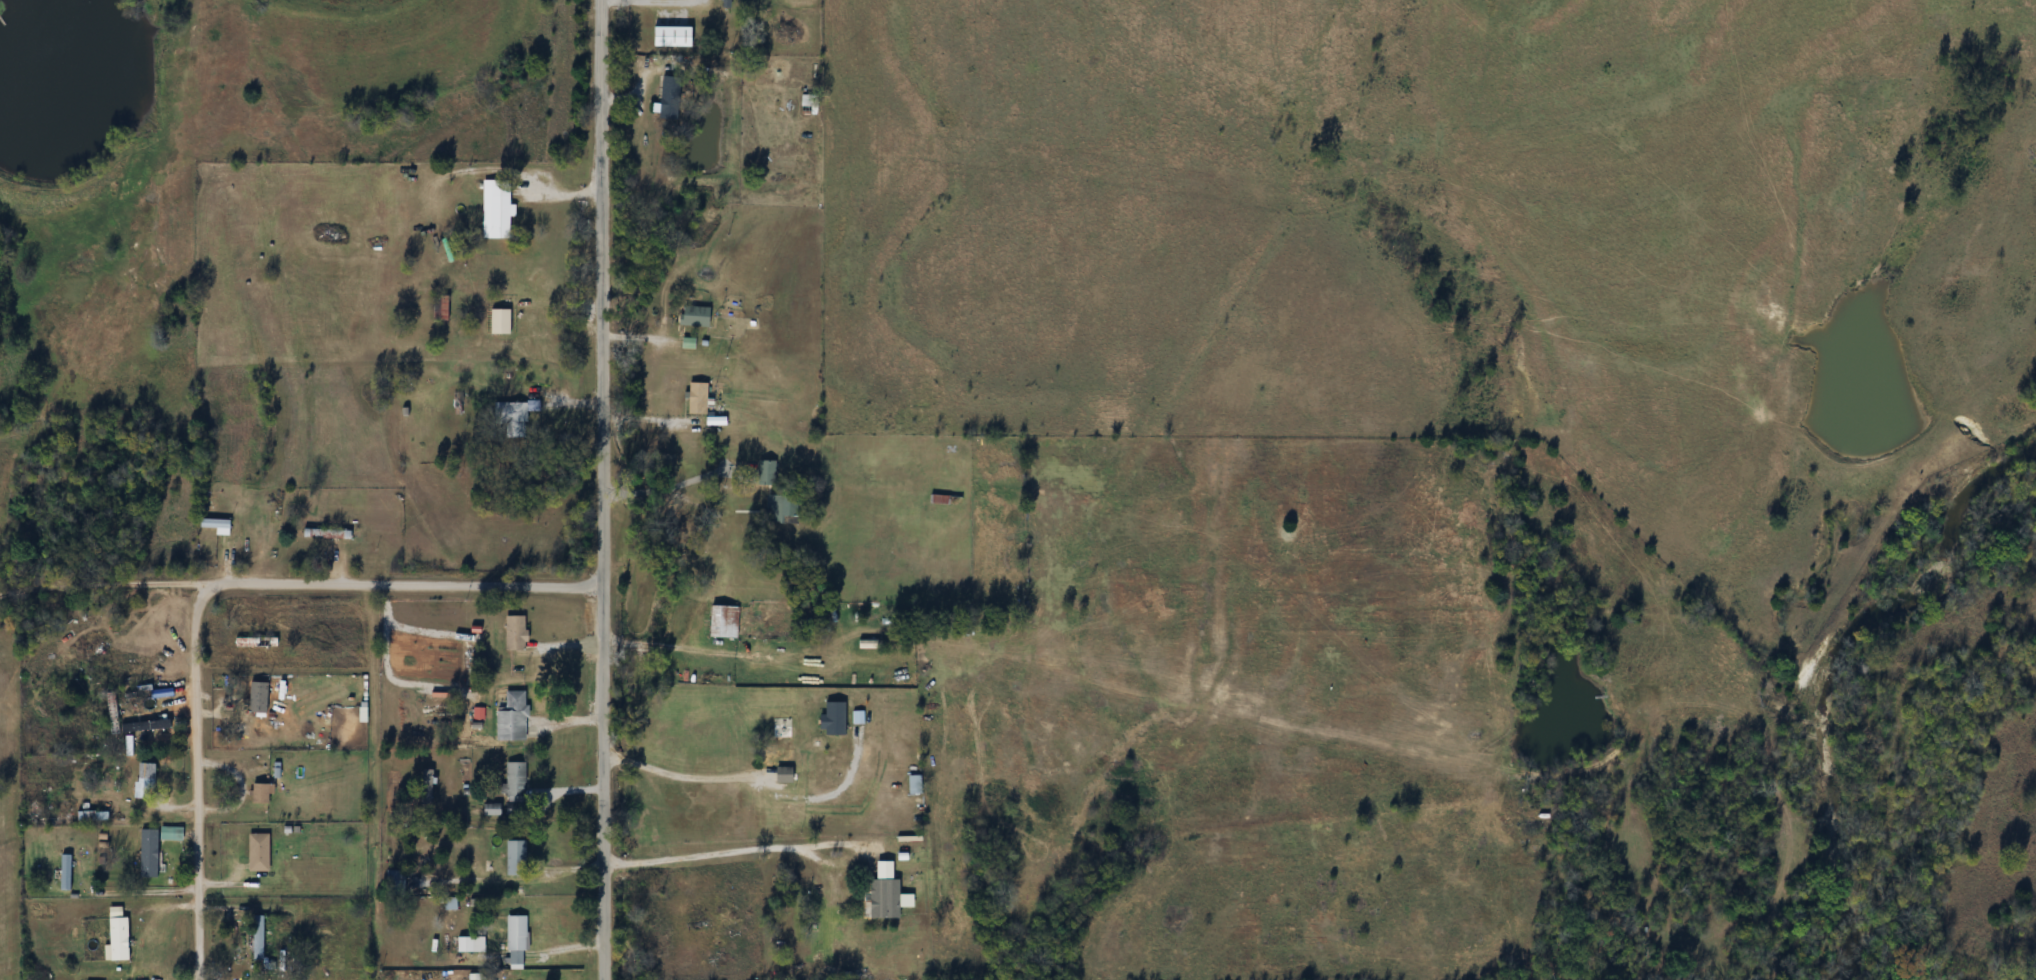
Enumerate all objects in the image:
road: (660, 5)
building: (671, 98)
building: (809, 105)
building: (501, 216)
building: (441, 306)
building: (695, 316)
building: (698, 398)
building: (512, 418)
building: (767, 473)
road: (603, 490)
building: (944, 499)
building: (775, 508)
building: (217, 525)
building: (327, 534)
road: (403, 581)
road: (101, 588)
building: (724, 621)
building: (516, 632)
building: (256, 641)
building: (259, 697)
building: (113, 714)
building: (512, 717)
building: (782, 738)
building: (147, 771)
building: (784, 774)
road: (686, 779)
road: (199, 781)
building: (915, 784)
building: (427, 787)
building: (515, 788)
building: (260, 793)
road: (170, 805)
building: (496, 811)
building: (93, 815)
building: (41, 819)
building: (149, 852)
building: (259, 852)
road: (729, 853)
building: (516, 856)
building: (66, 872)
building: (395, 882)
building: (843, 935)
building: (258, 937)
building: (119, 938)
building: (516, 939)

